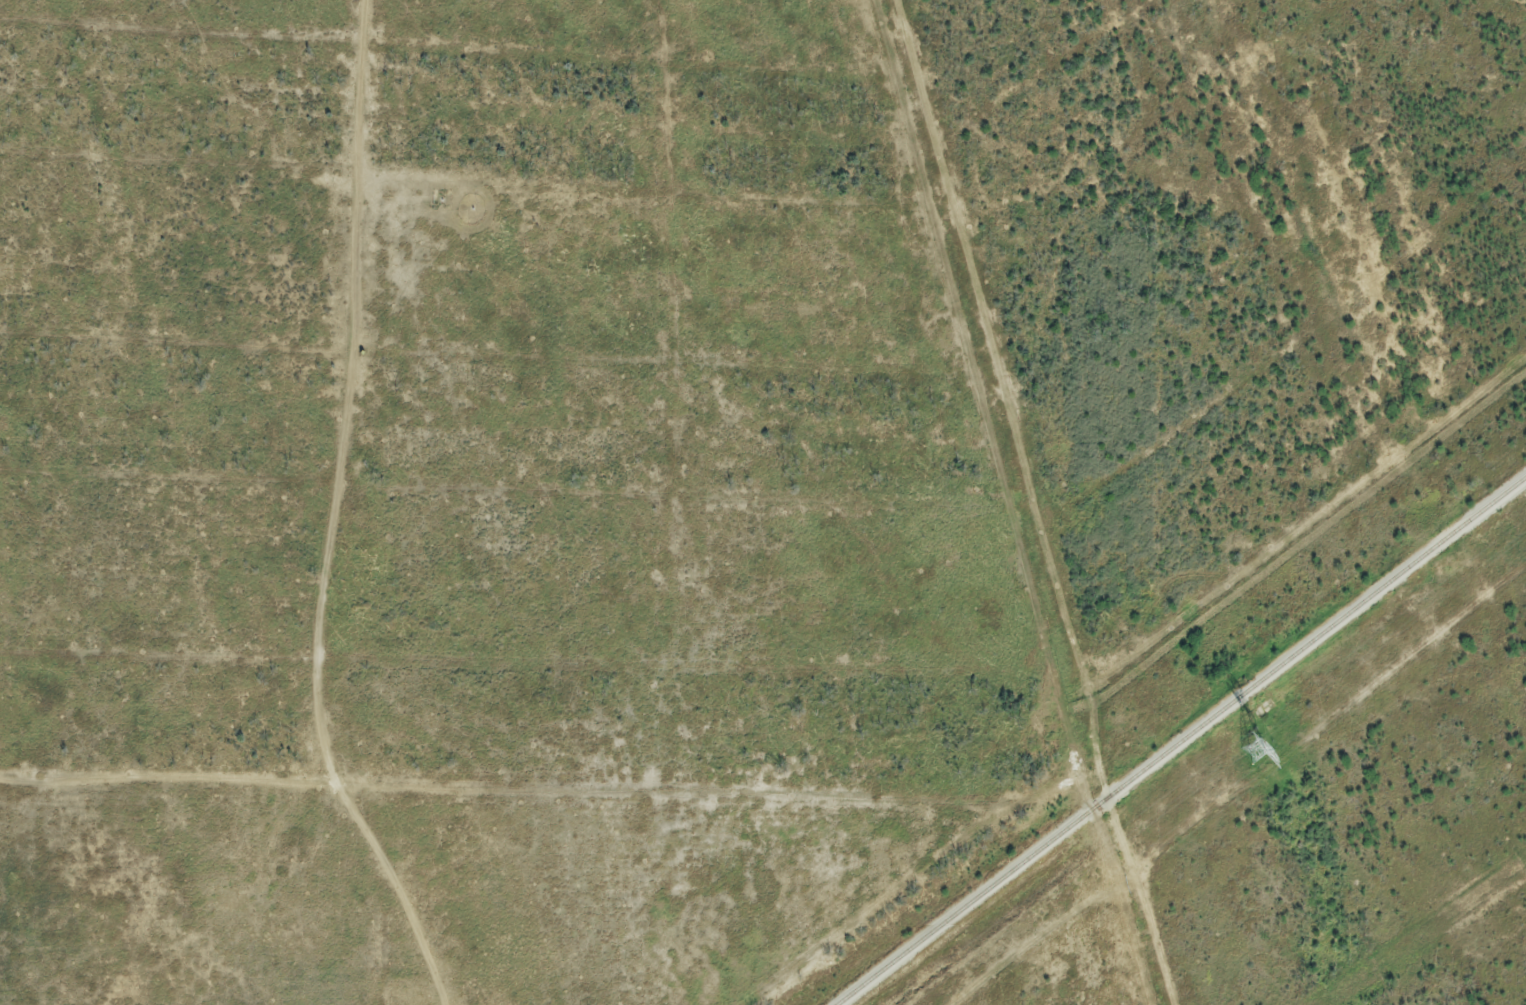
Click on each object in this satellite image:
railway: (1185, 742)
power tower: (1255, 749)

